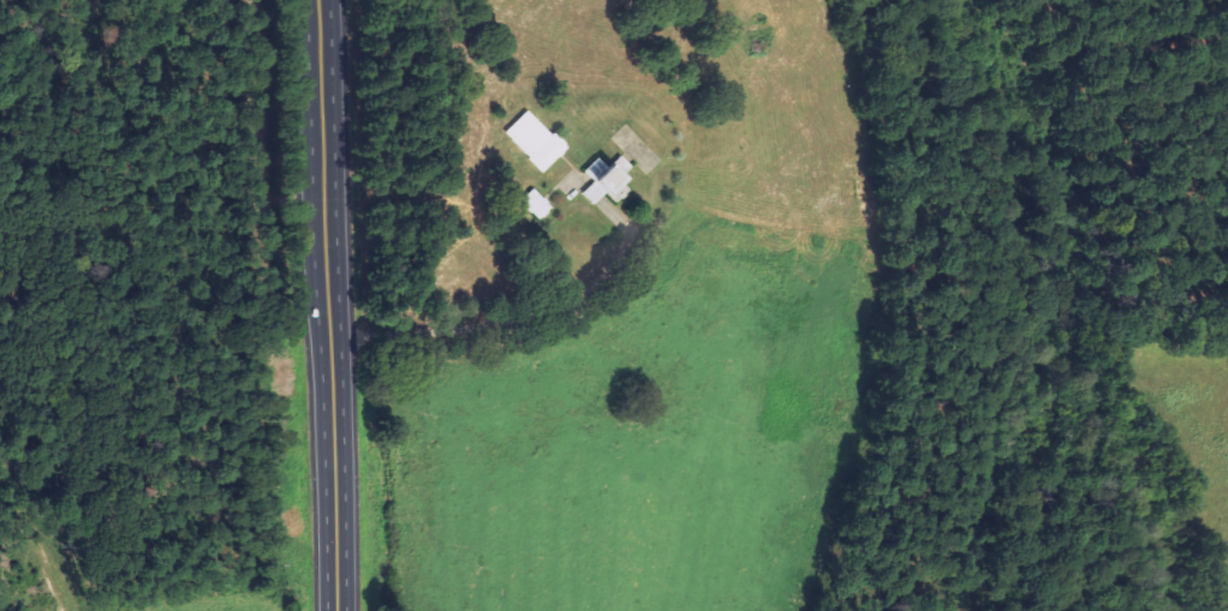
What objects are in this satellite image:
building: (540, 140)
road: (332, 305)

